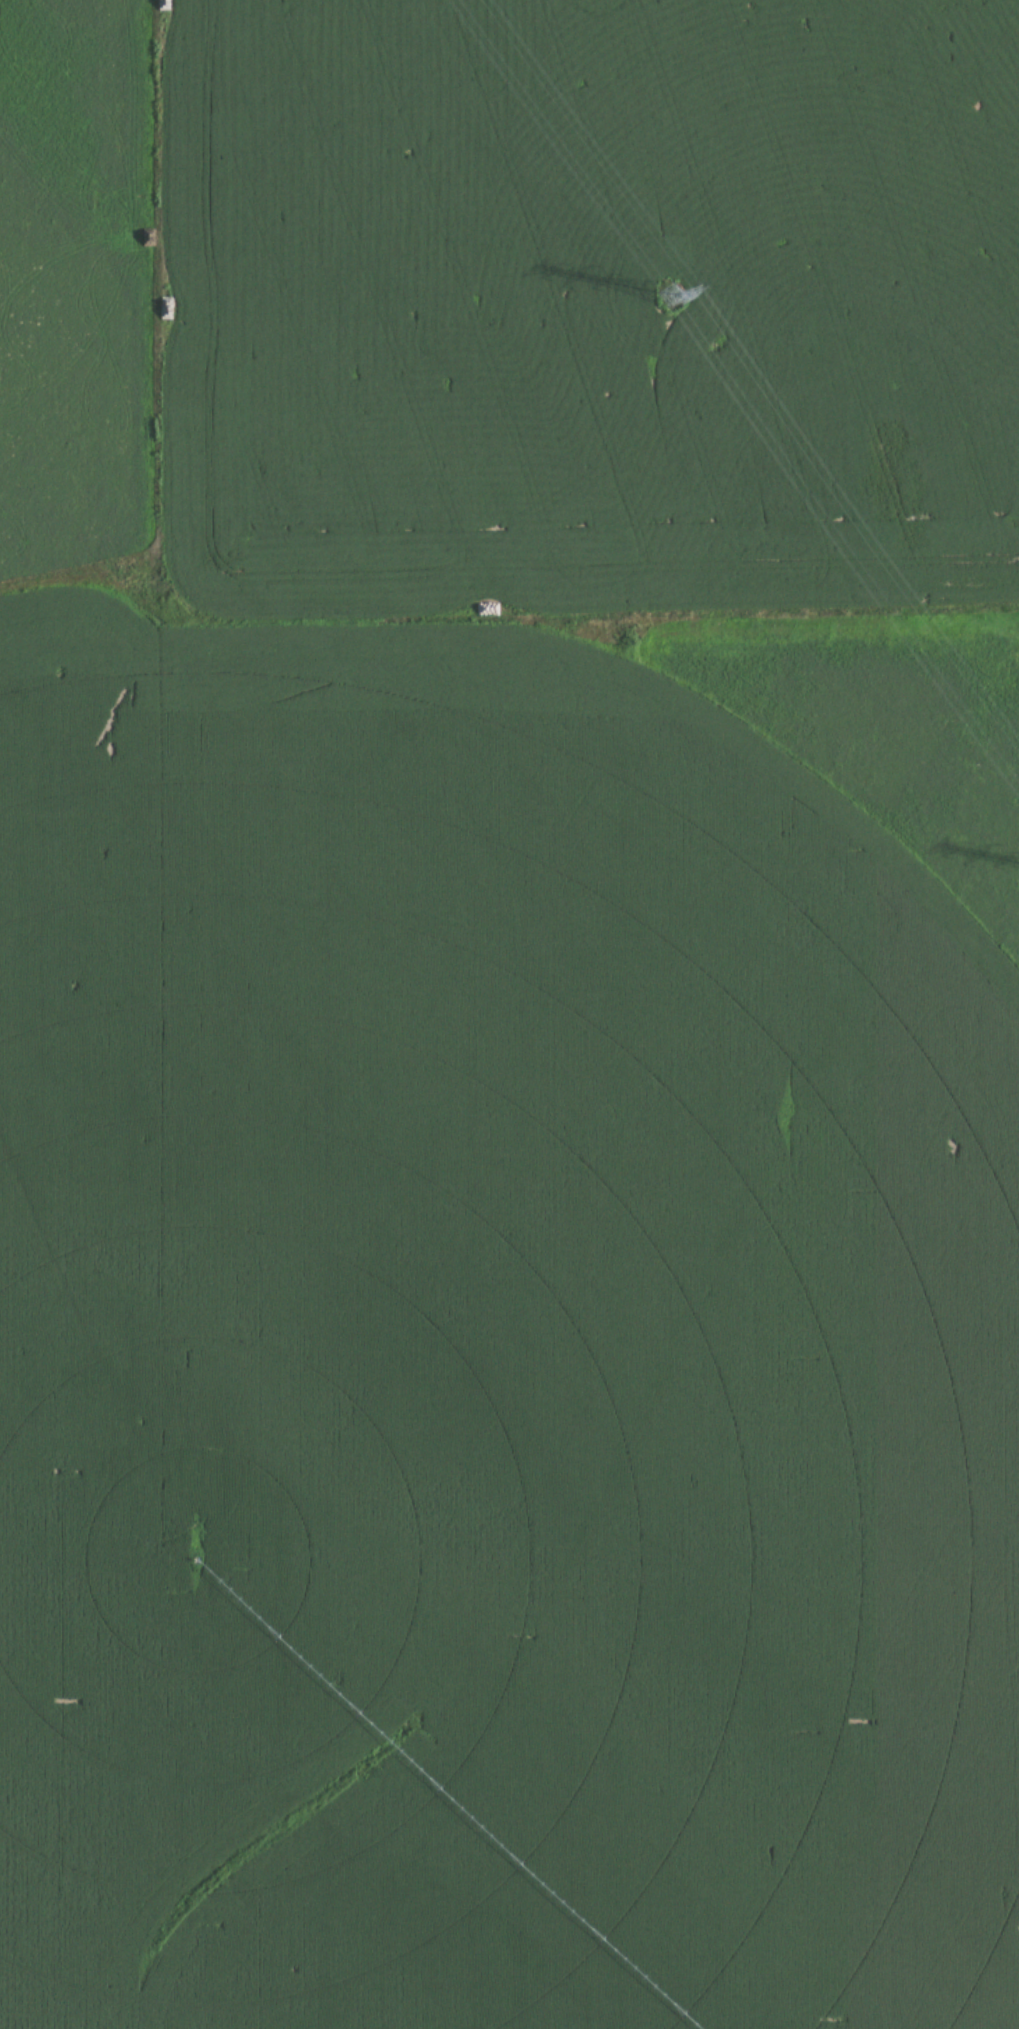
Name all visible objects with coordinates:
power tower: (665, 296)

